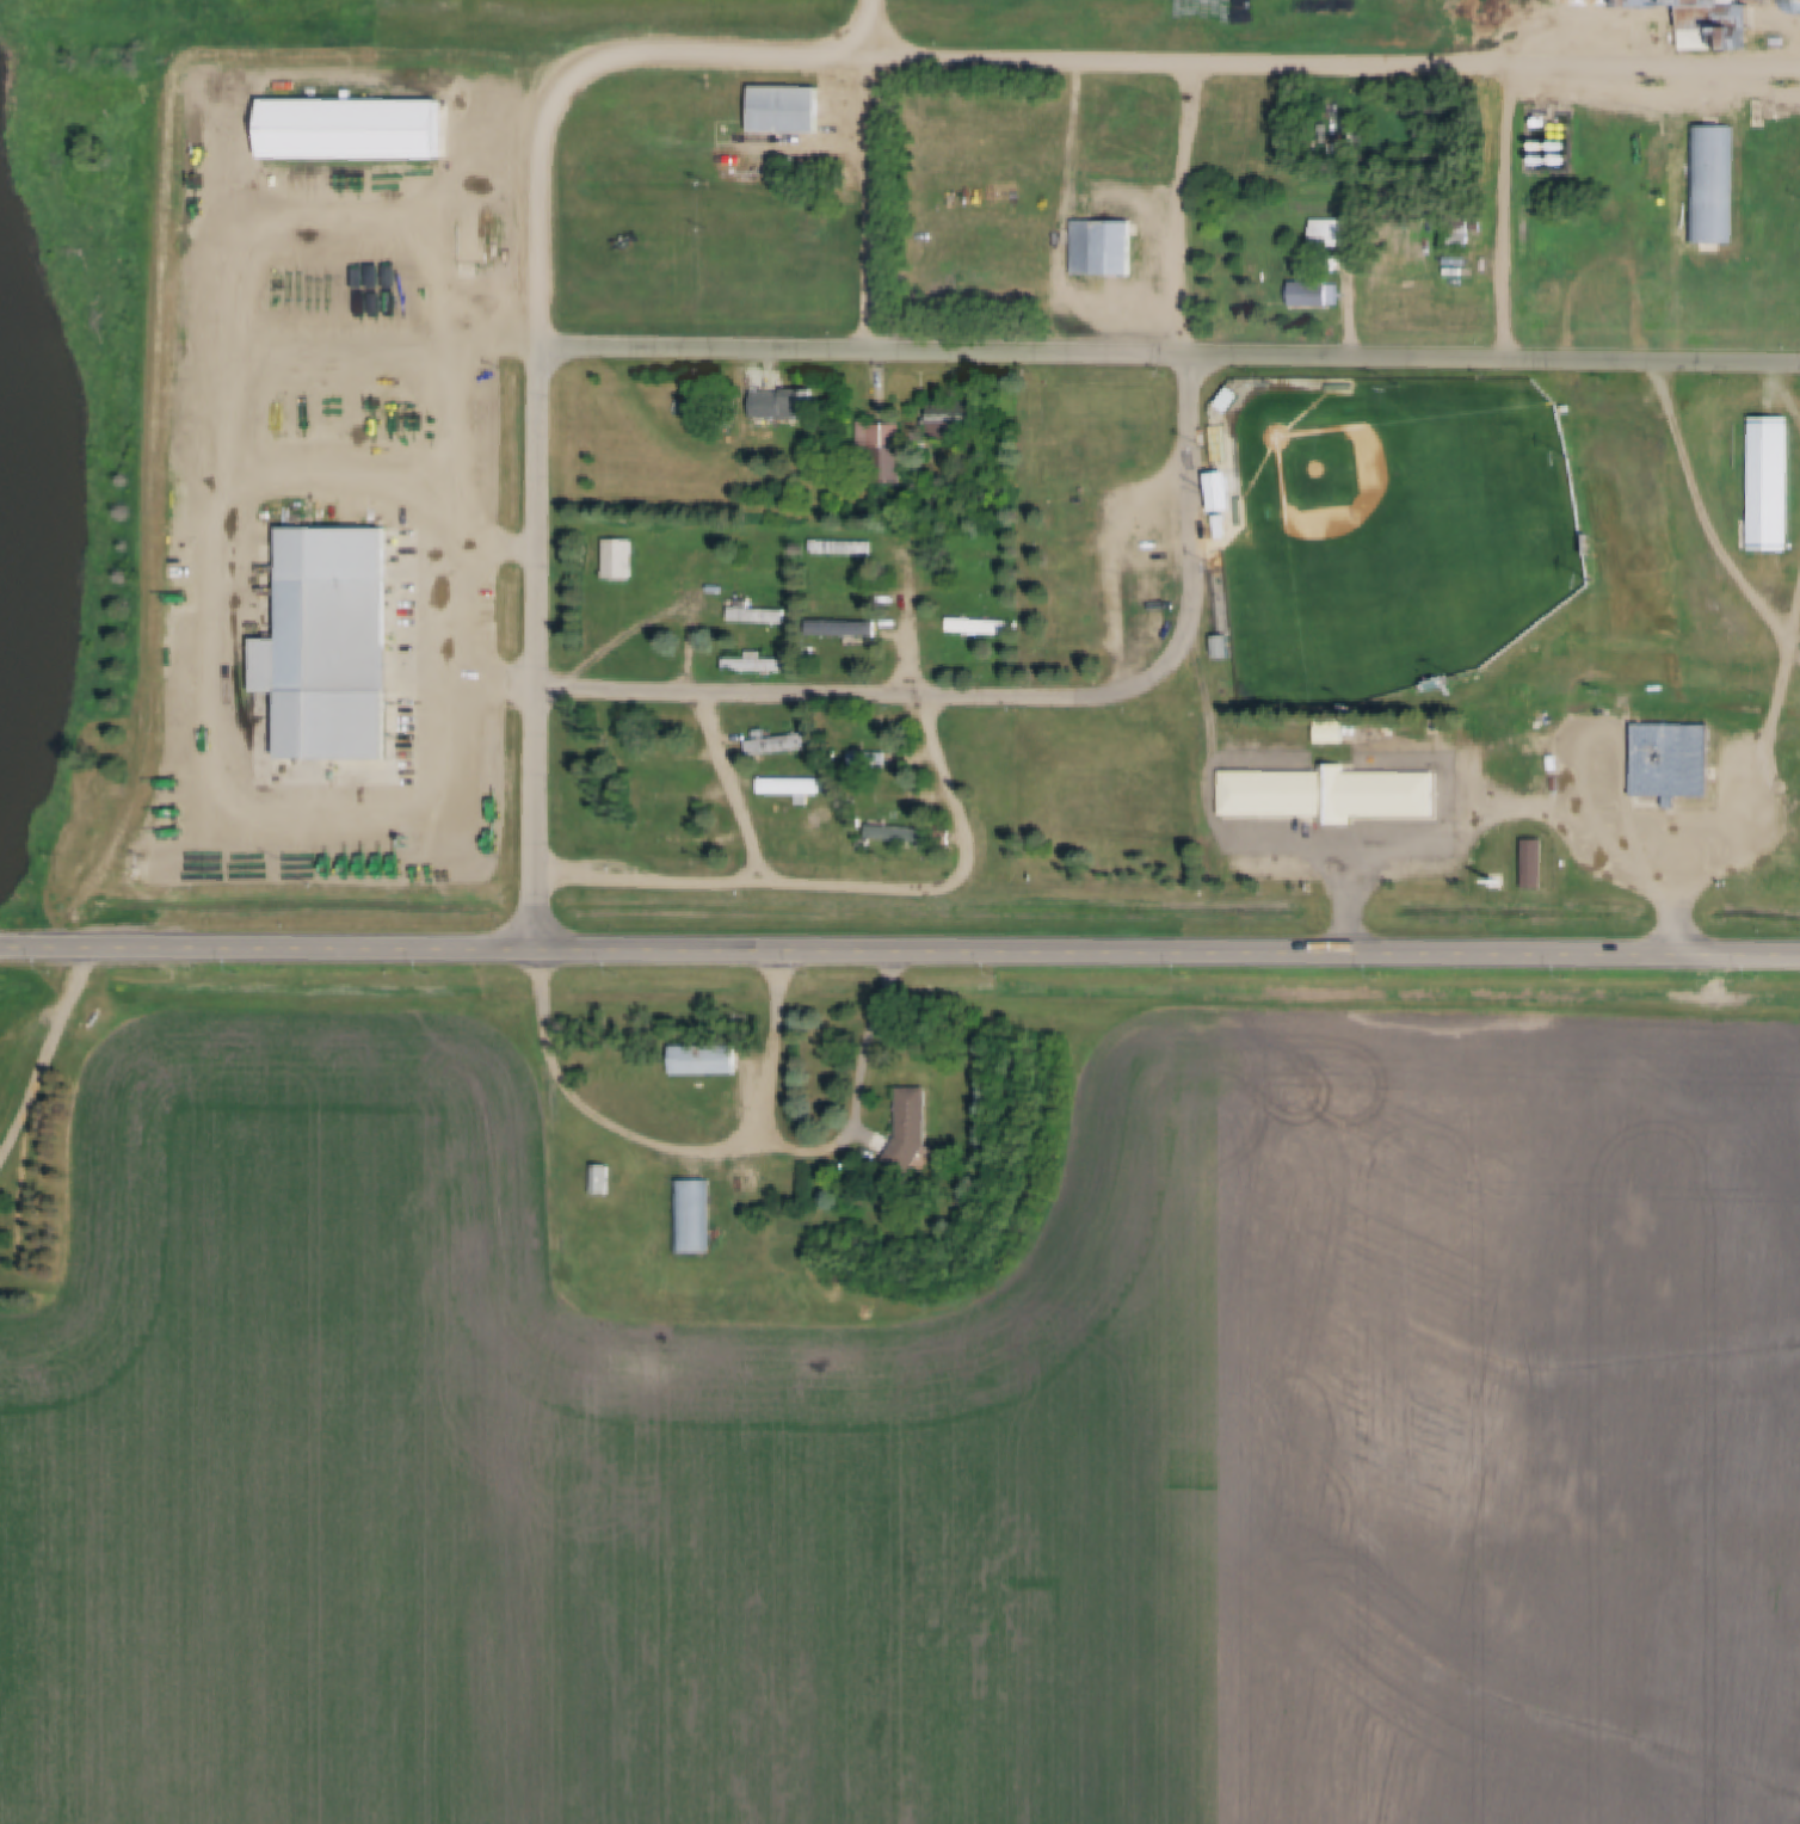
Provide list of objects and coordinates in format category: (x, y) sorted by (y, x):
building: (1586, 1)
silo: (1586, 1)
building: (1611, 1)
silo: (1611, 1)
building: (1508, 16)
building: (1720, 21)
road: (880, 27)
road: (1159, 64)
building: (1763, 106)
storage tank: (1763, 106)
building: (790, 109)
building: (1763, 119)
storage tank: (1763, 119)
building: (1330, 123)
building: (359, 129)
building: (1541, 147)
storage tank: (1541, 147)
building: (1560, 147)
storage tank: (1560, 147)
building: (1541, 160)
storage tank: (1541, 160)
building: (1558, 160)
storage tank: (1558, 160)
building: (1713, 184)
road: (870, 203)
road: (1183, 210)
road: (1505, 214)
road: (540, 228)
building: (809, 230)
building: (1330, 233)
building: (1462, 236)
building: (1106, 247)
building: (1461, 273)
building: (1313, 295)
road: (503, 341)
road: (1170, 355)
building: (1342, 386)
building: (714, 399)
building: (1238, 399)
building: (793, 403)
building: (958, 417)
building: (1584, 427)
building: (887, 448)
road: (244, 483)
building: (1771, 483)
building: (1227, 493)
road: (1706, 514)
building: (1226, 525)
river: (8, 528)
park: (1399, 536)
road: (1196, 541)
building: (1216, 546)
road: (494, 548)
building: (623, 559)
road: (1117, 563)
park: (1411, 565)
building: (843, 589)
building: (847, 628)
road: (910, 634)
building: (337, 643)
road: (540, 649)
building: (963, 655)
building: (759, 664)
building: (843, 668)
building: (976, 668)
road: (493, 683)
road: (831, 692)
road: (1779, 707)
building: (1337, 732)
building: (779, 744)
building: (873, 758)
building: (646, 759)
building: (1677, 762)
road: (733, 787)
building: (796, 788)
building: (1332, 795)
building: (880, 797)
building: (874, 801)
road: (1480, 826)
building: (899, 831)
building: (684, 839)
building: (1539, 864)
road: (1697, 869)
road: (849, 885)
road: (1350, 908)
road: (141, 947)
road: (411, 947)
road: (1152, 954)
road: (1783, 960)
road: (41, 1040)
road: (777, 1047)
building: (709, 1060)
building: (917, 1128)
road: (726, 1148)
building: (605, 1179)
building: (695, 1216)

